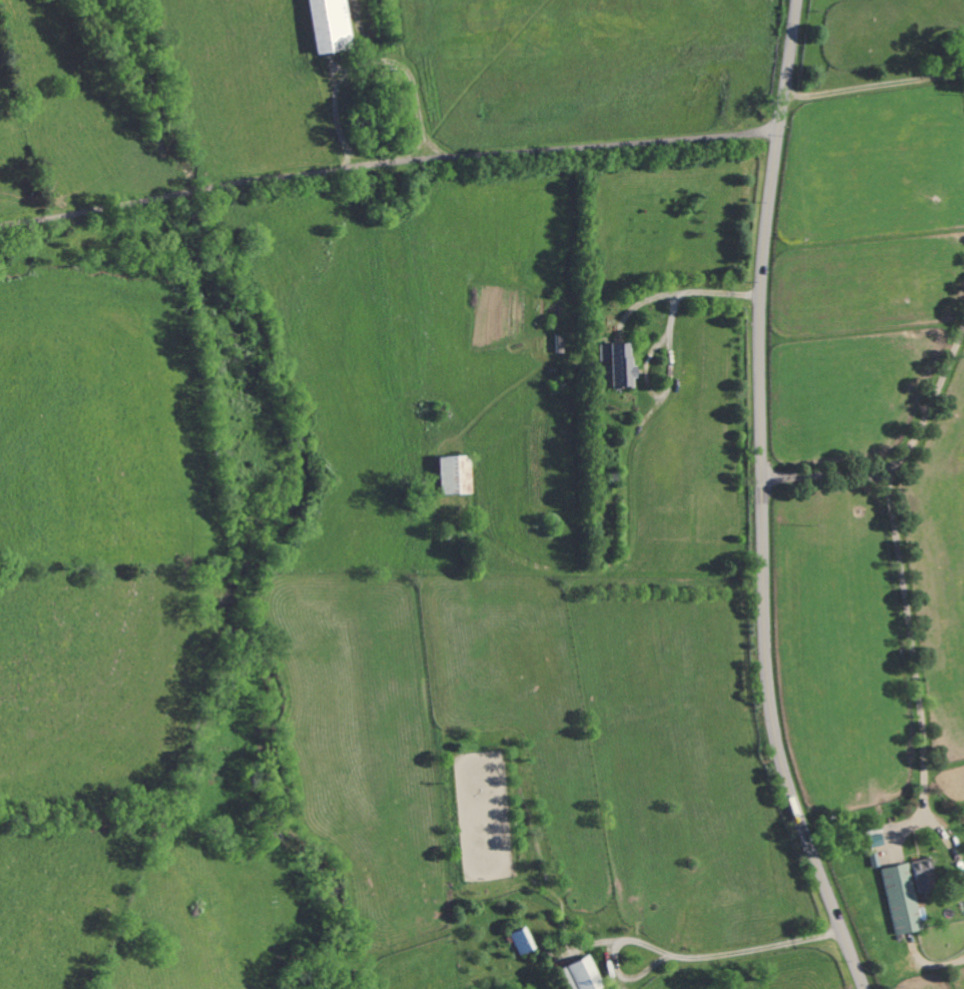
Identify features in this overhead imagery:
building: (328, 25)
road: (874, 85)
road: (387, 164)
road: (680, 293)
building: (615, 364)
road: (901, 456)
building: (451, 476)
road: (761, 501)
road: (912, 658)
building: (922, 876)
building: (900, 900)
road: (685, 959)
building: (578, 975)

